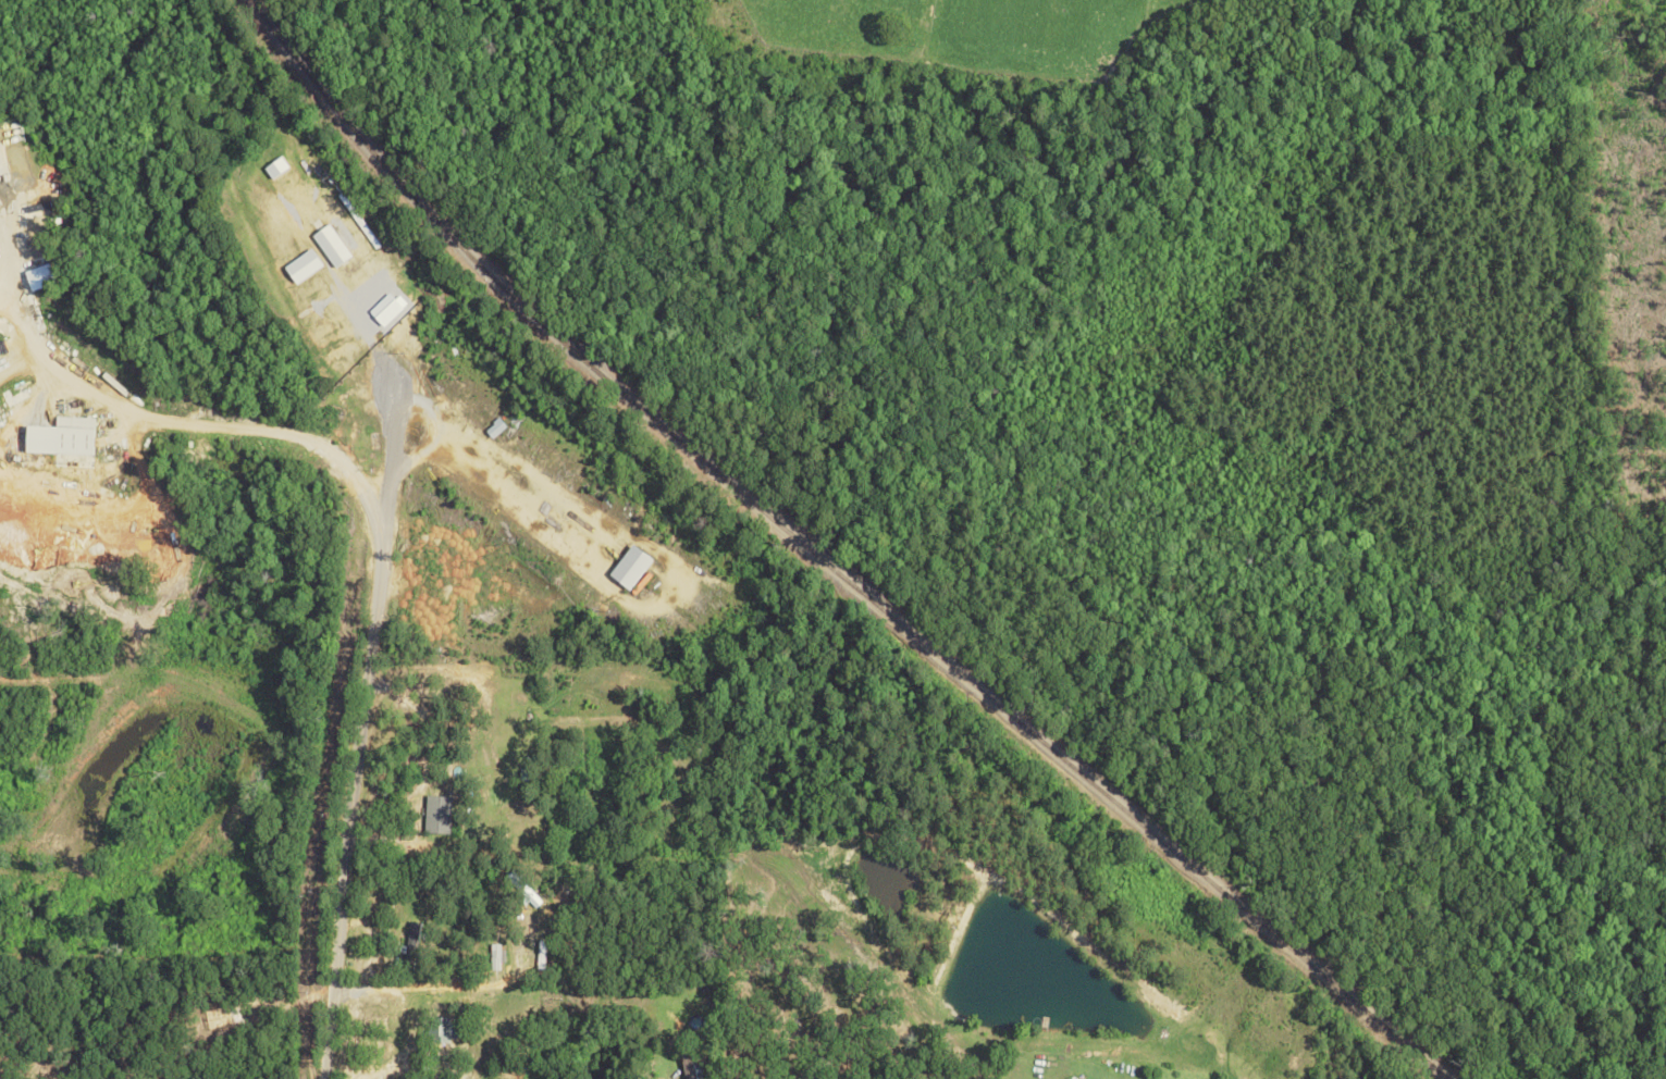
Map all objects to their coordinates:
building: (275, 168)
building: (330, 246)
building: (303, 265)
road: (264, 427)
building: (494, 427)
building: (60, 437)
railway: (829, 558)
building: (630, 567)
road: (344, 773)
building: (436, 815)
building: (410, 938)
building: (495, 955)
road: (461, 964)
building: (446, 1029)

